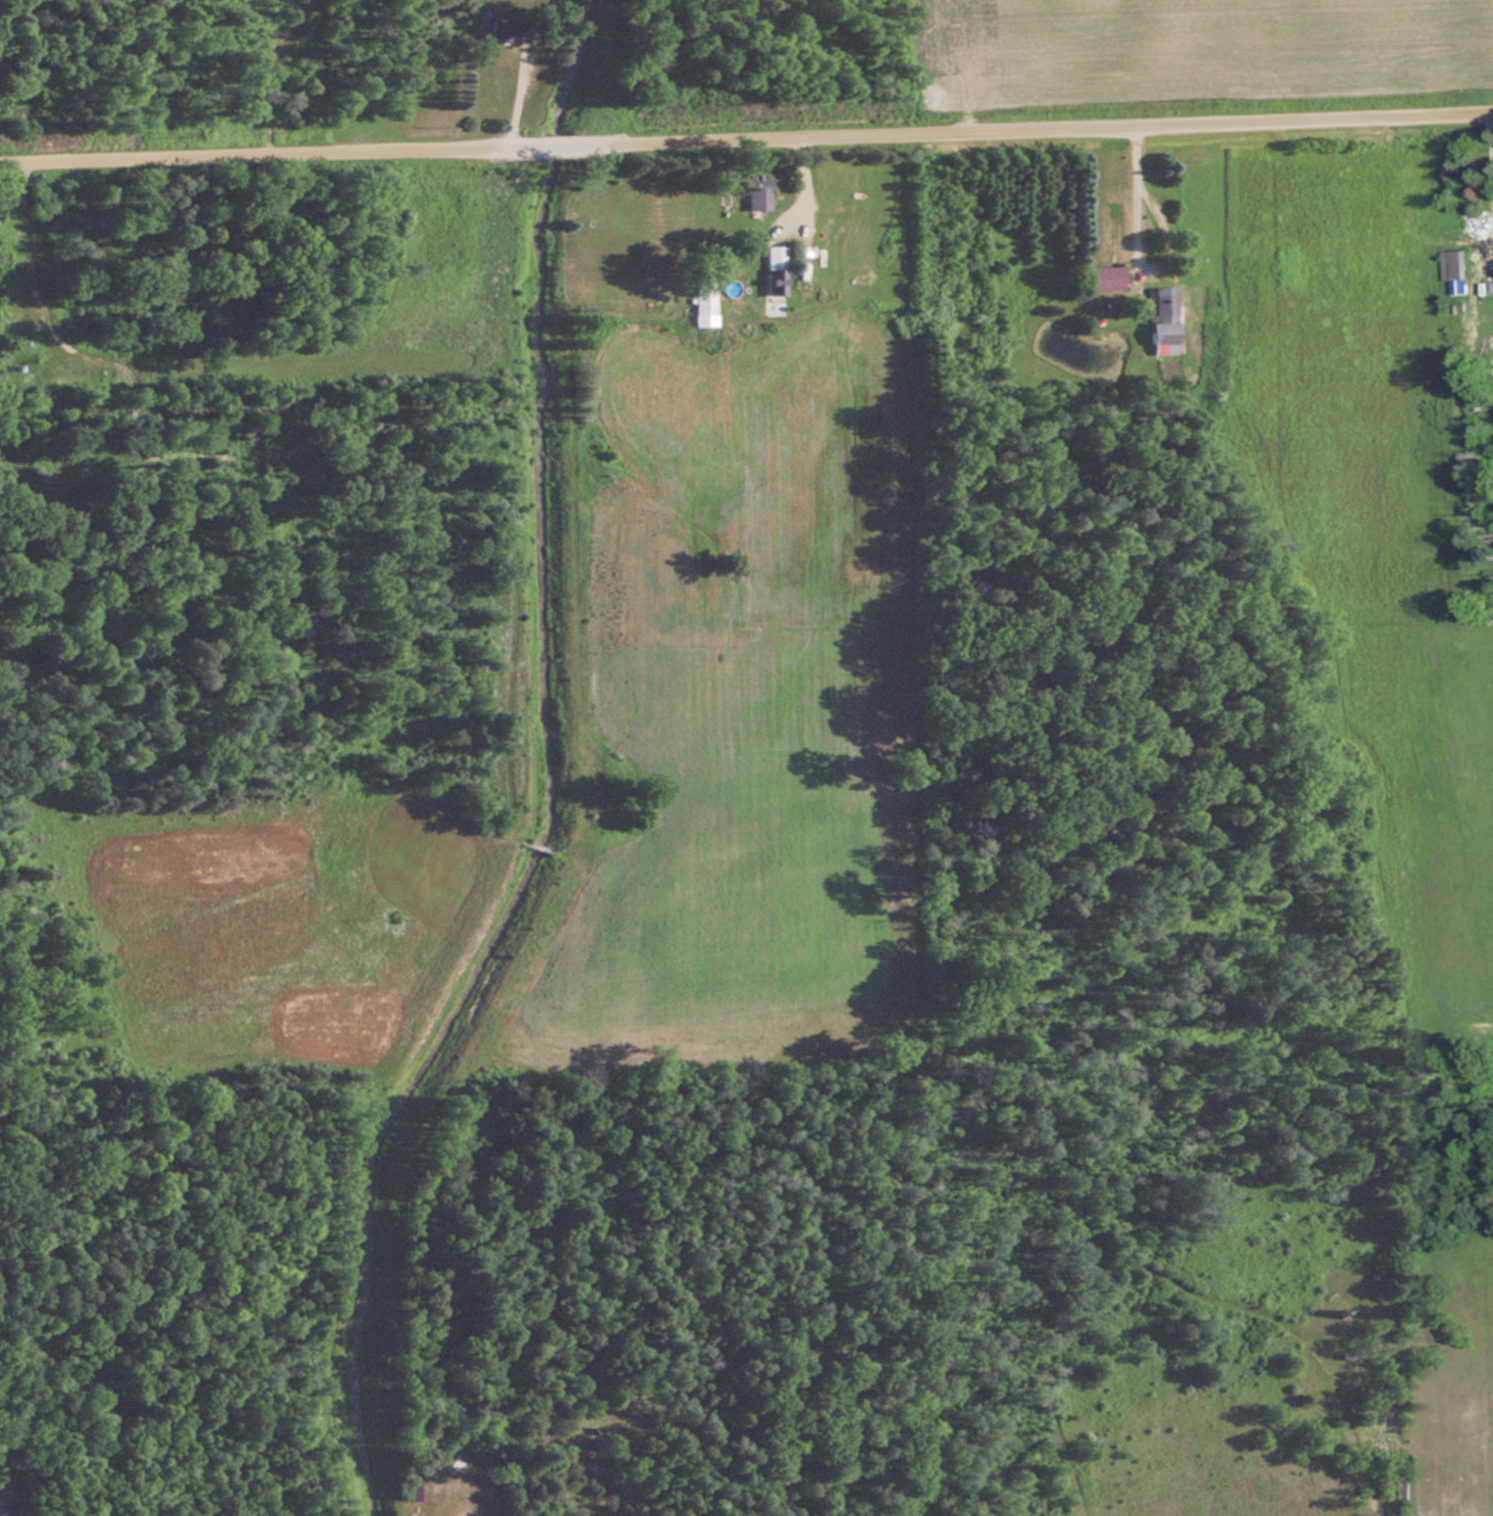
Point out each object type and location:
building: (502, 31)
road: (746, 142)
building: (754, 191)
building: (1453, 265)
building: (773, 269)
building: (1101, 277)
building: (702, 303)
building: (1162, 315)
building: (413, 1492)

